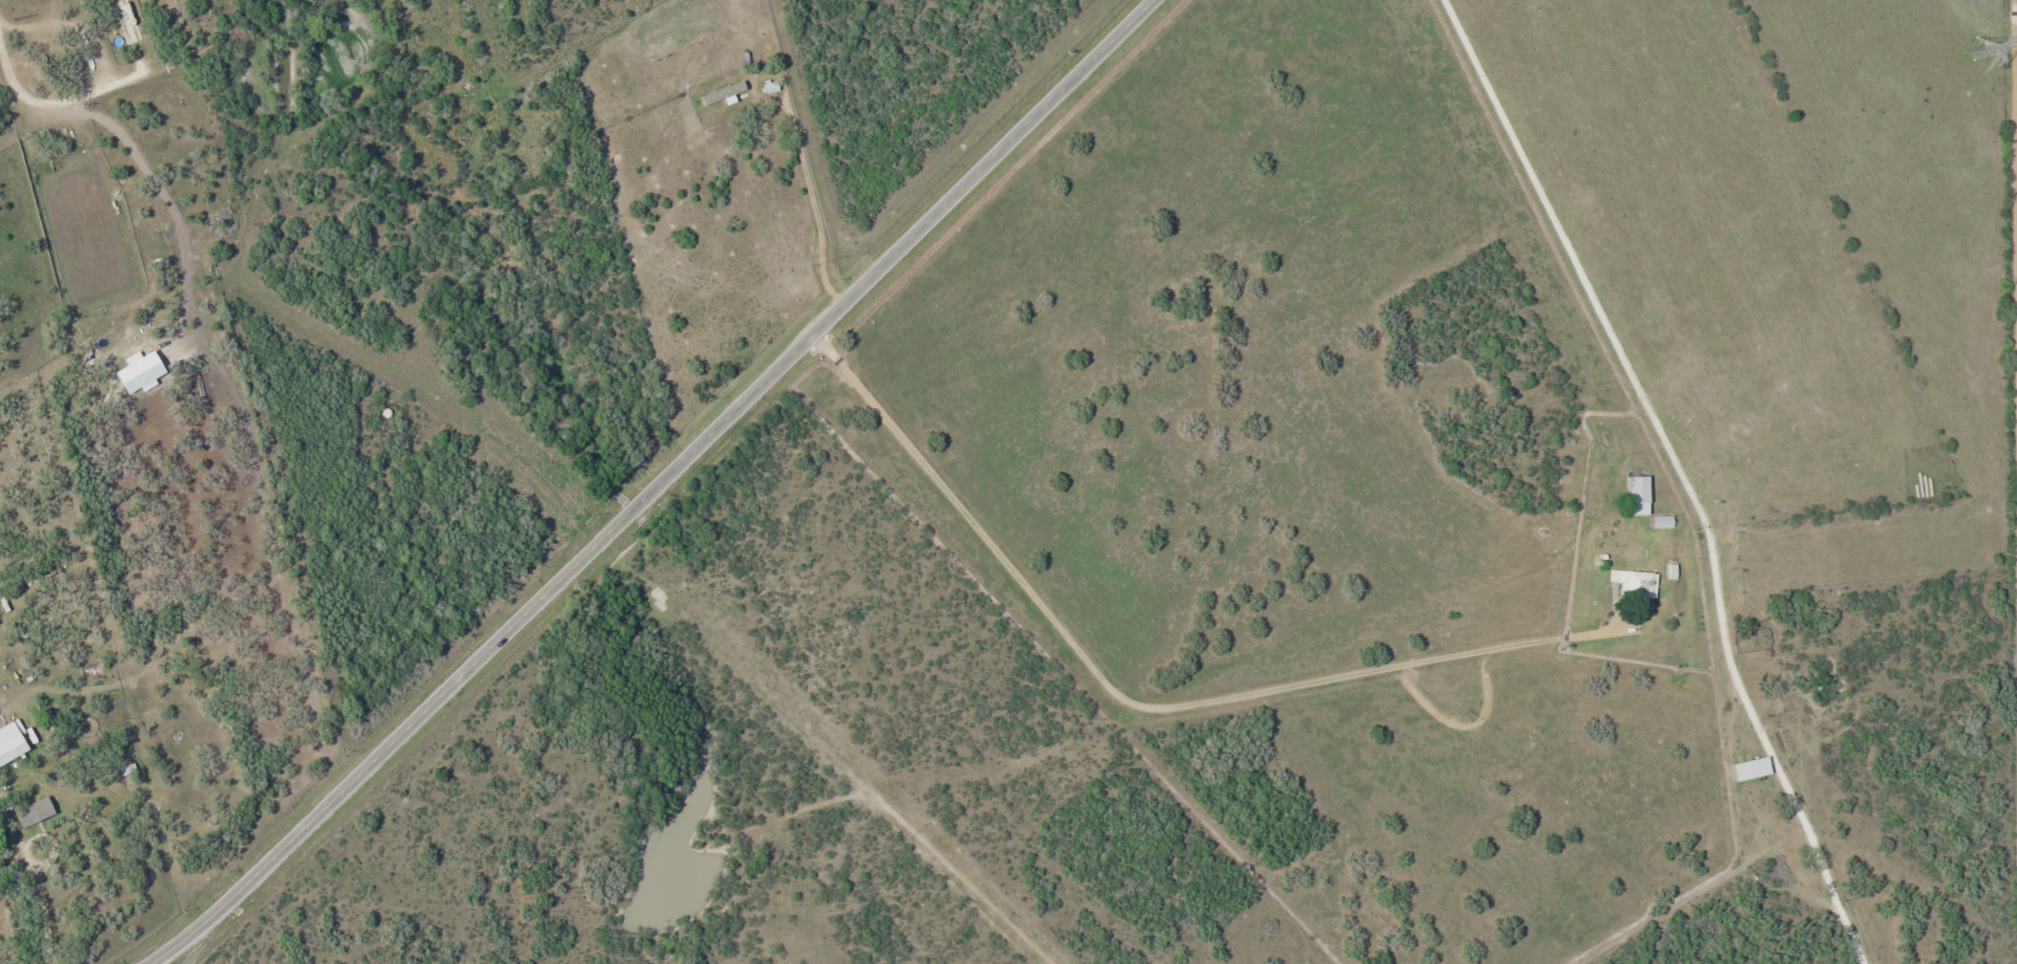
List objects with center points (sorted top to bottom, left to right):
building: (129, 24)
power tower: (1976, 48)
road: (660, 484)
building: (1637, 490)
building: (1661, 521)
building: (1637, 585)
road: (1130, 700)
building: (10, 744)
building: (33, 812)

